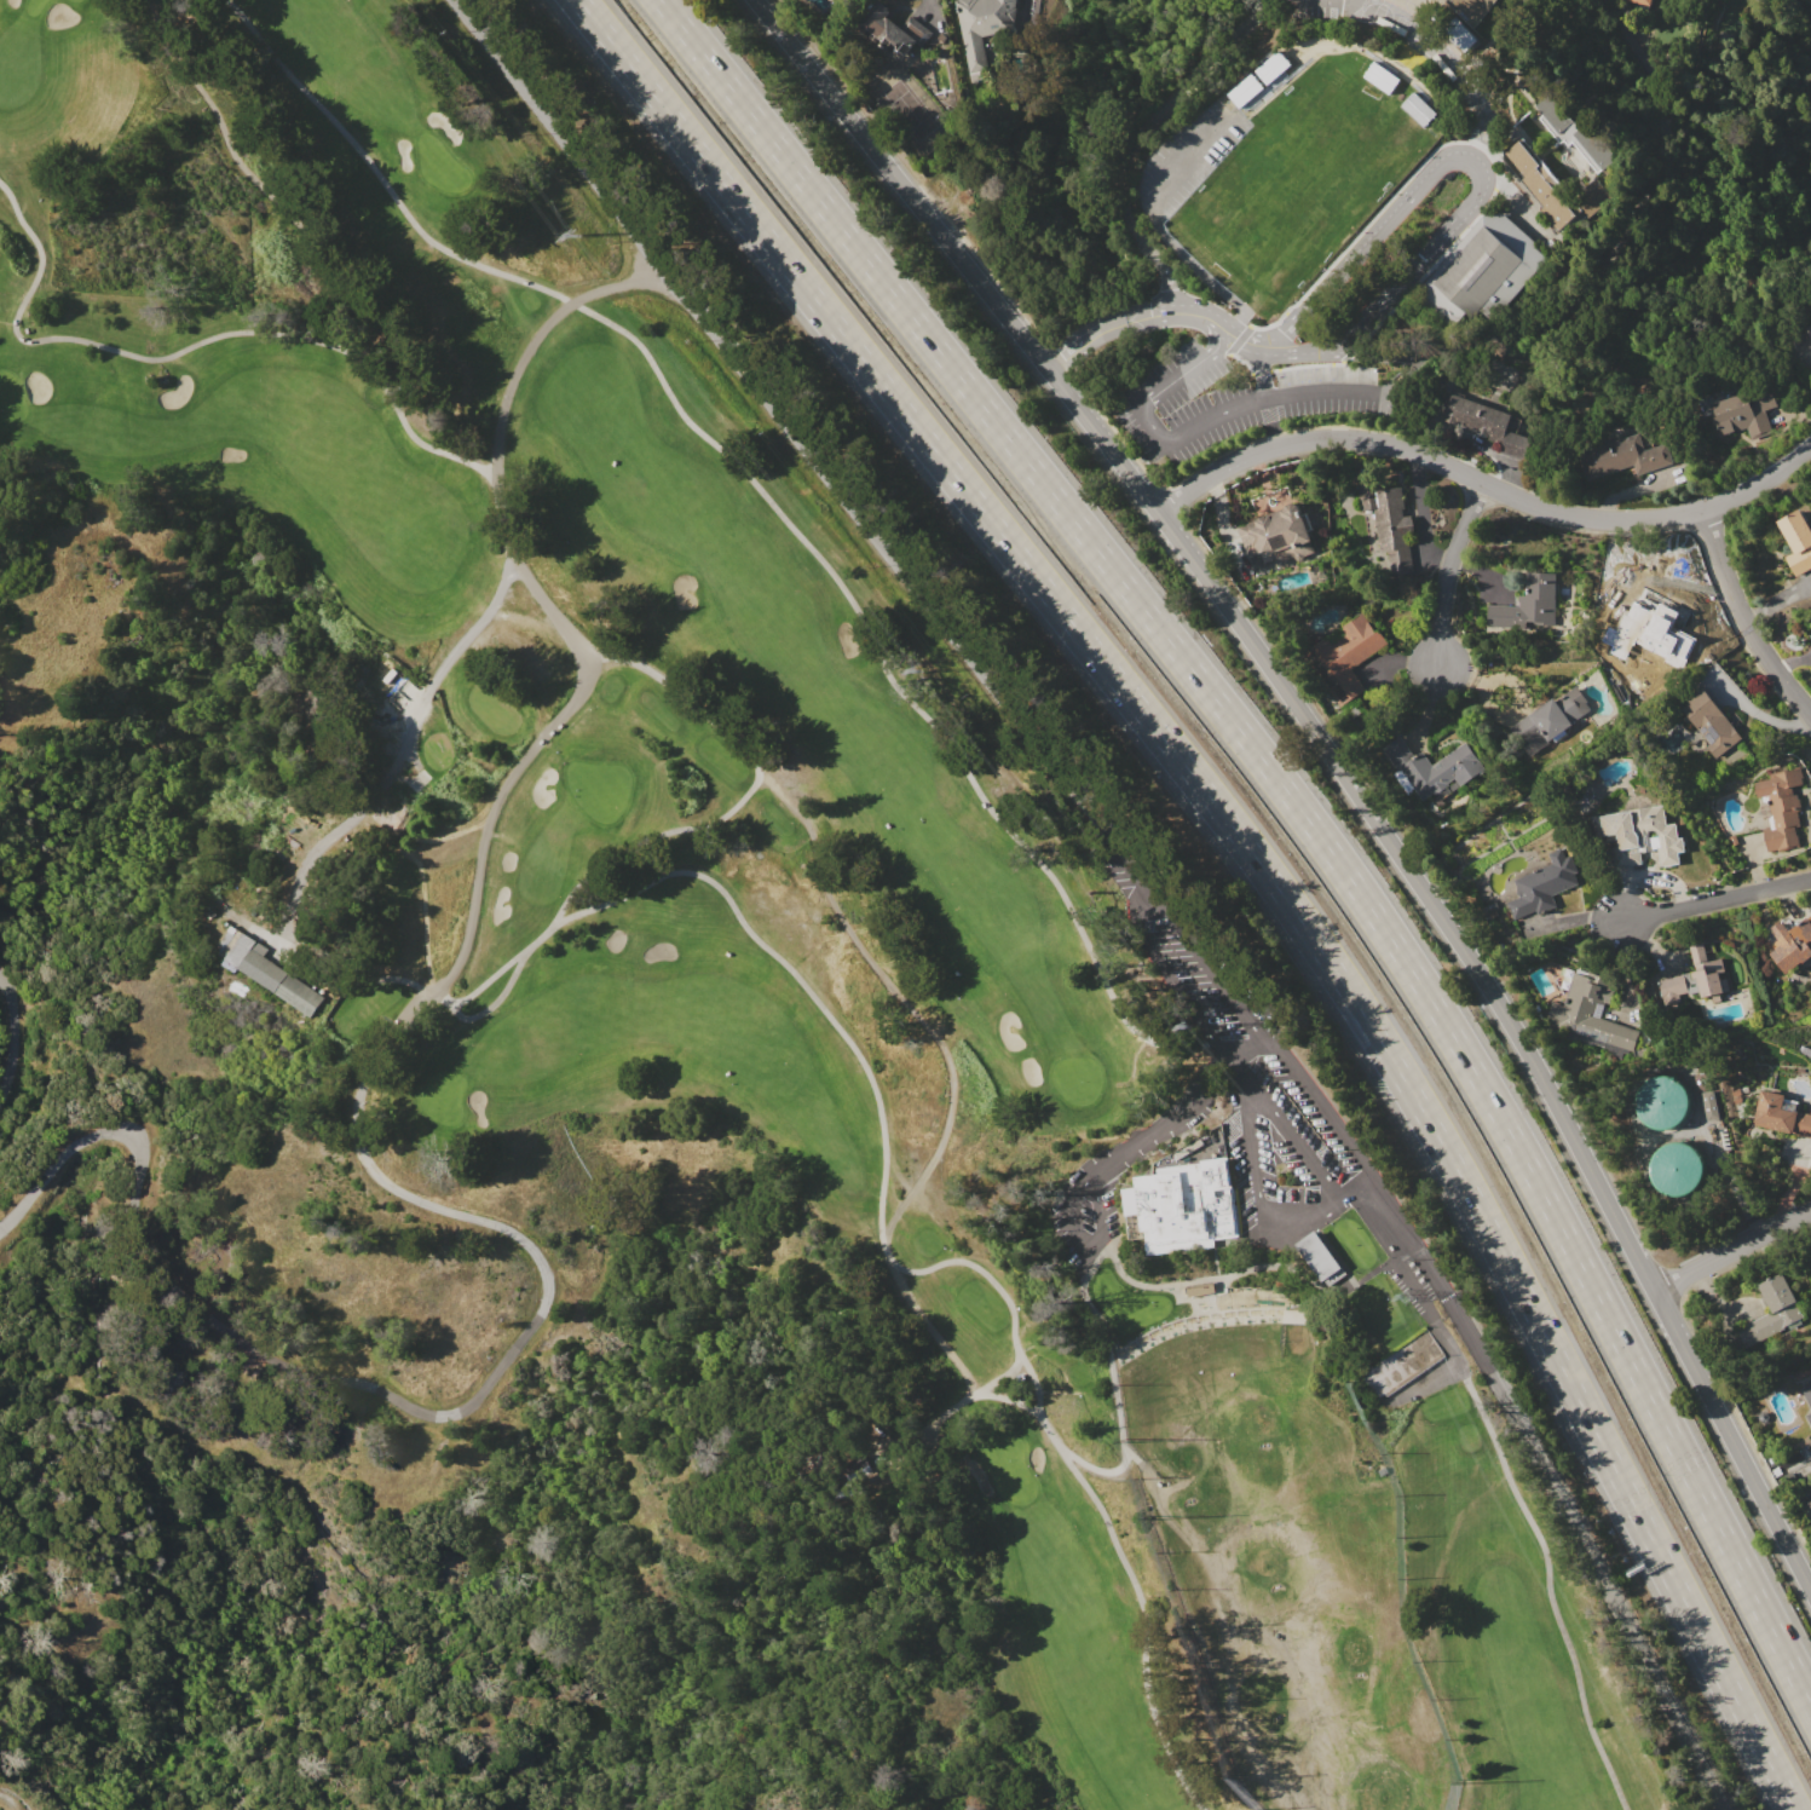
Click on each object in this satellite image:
park: (80, 1)
building: (1639, 2)
park: (35, 6)
building: (1472, 8)
building: (981, 27)
building: (893, 29)
building: (1461, 35)
road: (1449, 56)
building: (1271, 65)
building: (1380, 76)
building: (1245, 88)
building: (1418, 108)
road: (1154, 119)
building: (1574, 128)
road: (550, 137)
road: (1466, 151)
park: (443, 166)
park: (1297, 180)
building: (1555, 188)
road: (15, 202)
power tower: (578, 234)
building: (1488, 266)
road: (1620, 282)
road: (1171, 286)
road: (1194, 313)
road: (1138, 316)
road: (18, 322)
road: (1217, 325)
building: (1809, 329)
road: (1252, 340)
road: (1071, 342)
road: (329, 344)
road: (1280, 344)
road: (1304, 348)
road: (1262, 369)
park: (11, 397)
building: (1746, 411)
road: (1217, 414)
building: (1488, 423)
building: (1623, 456)
road: (1483, 484)
road: (772, 505)
building: (1390, 526)
building: (1277, 535)
building: (1798, 540)
road: (1453, 569)
road: (909, 586)
building: (1528, 605)
road: (1747, 616)
road: (581, 650)
building: (1348, 656)
power tower: (919, 669)
building: (1551, 721)
building: (1711, 722)
road: (398, 755)
road: (1334, 757)
building: (1434, 768)
park: (600, 789)
road: (749, 791)
road: (1299, 808)
building: (1781, 808)
building: (1643, 836)
road: (1256, 858)
building: (1541, 884)
road: (1714, 898)
park: (772, 900)
building: (1793, 945)
road: (1212, 964)
building: (271, 973)
road: (1170, 975)
building: (1697, 976)
road: (350, 980)
building: (1587, 1016)
road: (462, 1018)
road: (921, 1019)
power tower: (1188, 1025)
road: (22, 1032)
road: (1248, 1044)
park: (1077, 1082)
park: (445, 1096)
water tower: (1661, 1097)
building: (1661, 1102)
building: (1781, 1116)
road: (1165, 1119)
road: (1282, 1128)
water tower: (1674, 1170)
building: (1676, 1170)
road: (1354, 1187)
road: (1257, 1197)
building: (1183, 1206)
road: (1082, 1239)
park: (1355, 1240)
building: (1322, 1251)
road: (1735, 1256)
road: (904, 1270)
power tower: (1406, 1295)
park: (1125, 1303)
building: (1772, 1312)
building: (1293, 1315)
building: (1407, 1360)
road: (381, 1393)
road: (986, 1394)
building: (1807, 1394)
road: (1117, 1405)
road: (1515, 1410)
building: (1809, 1417)
building: (861, 1469)
park: (1010, 1469)
building: (1809, 1504)
road: (1550, 1589)
road: (8, 1800)

